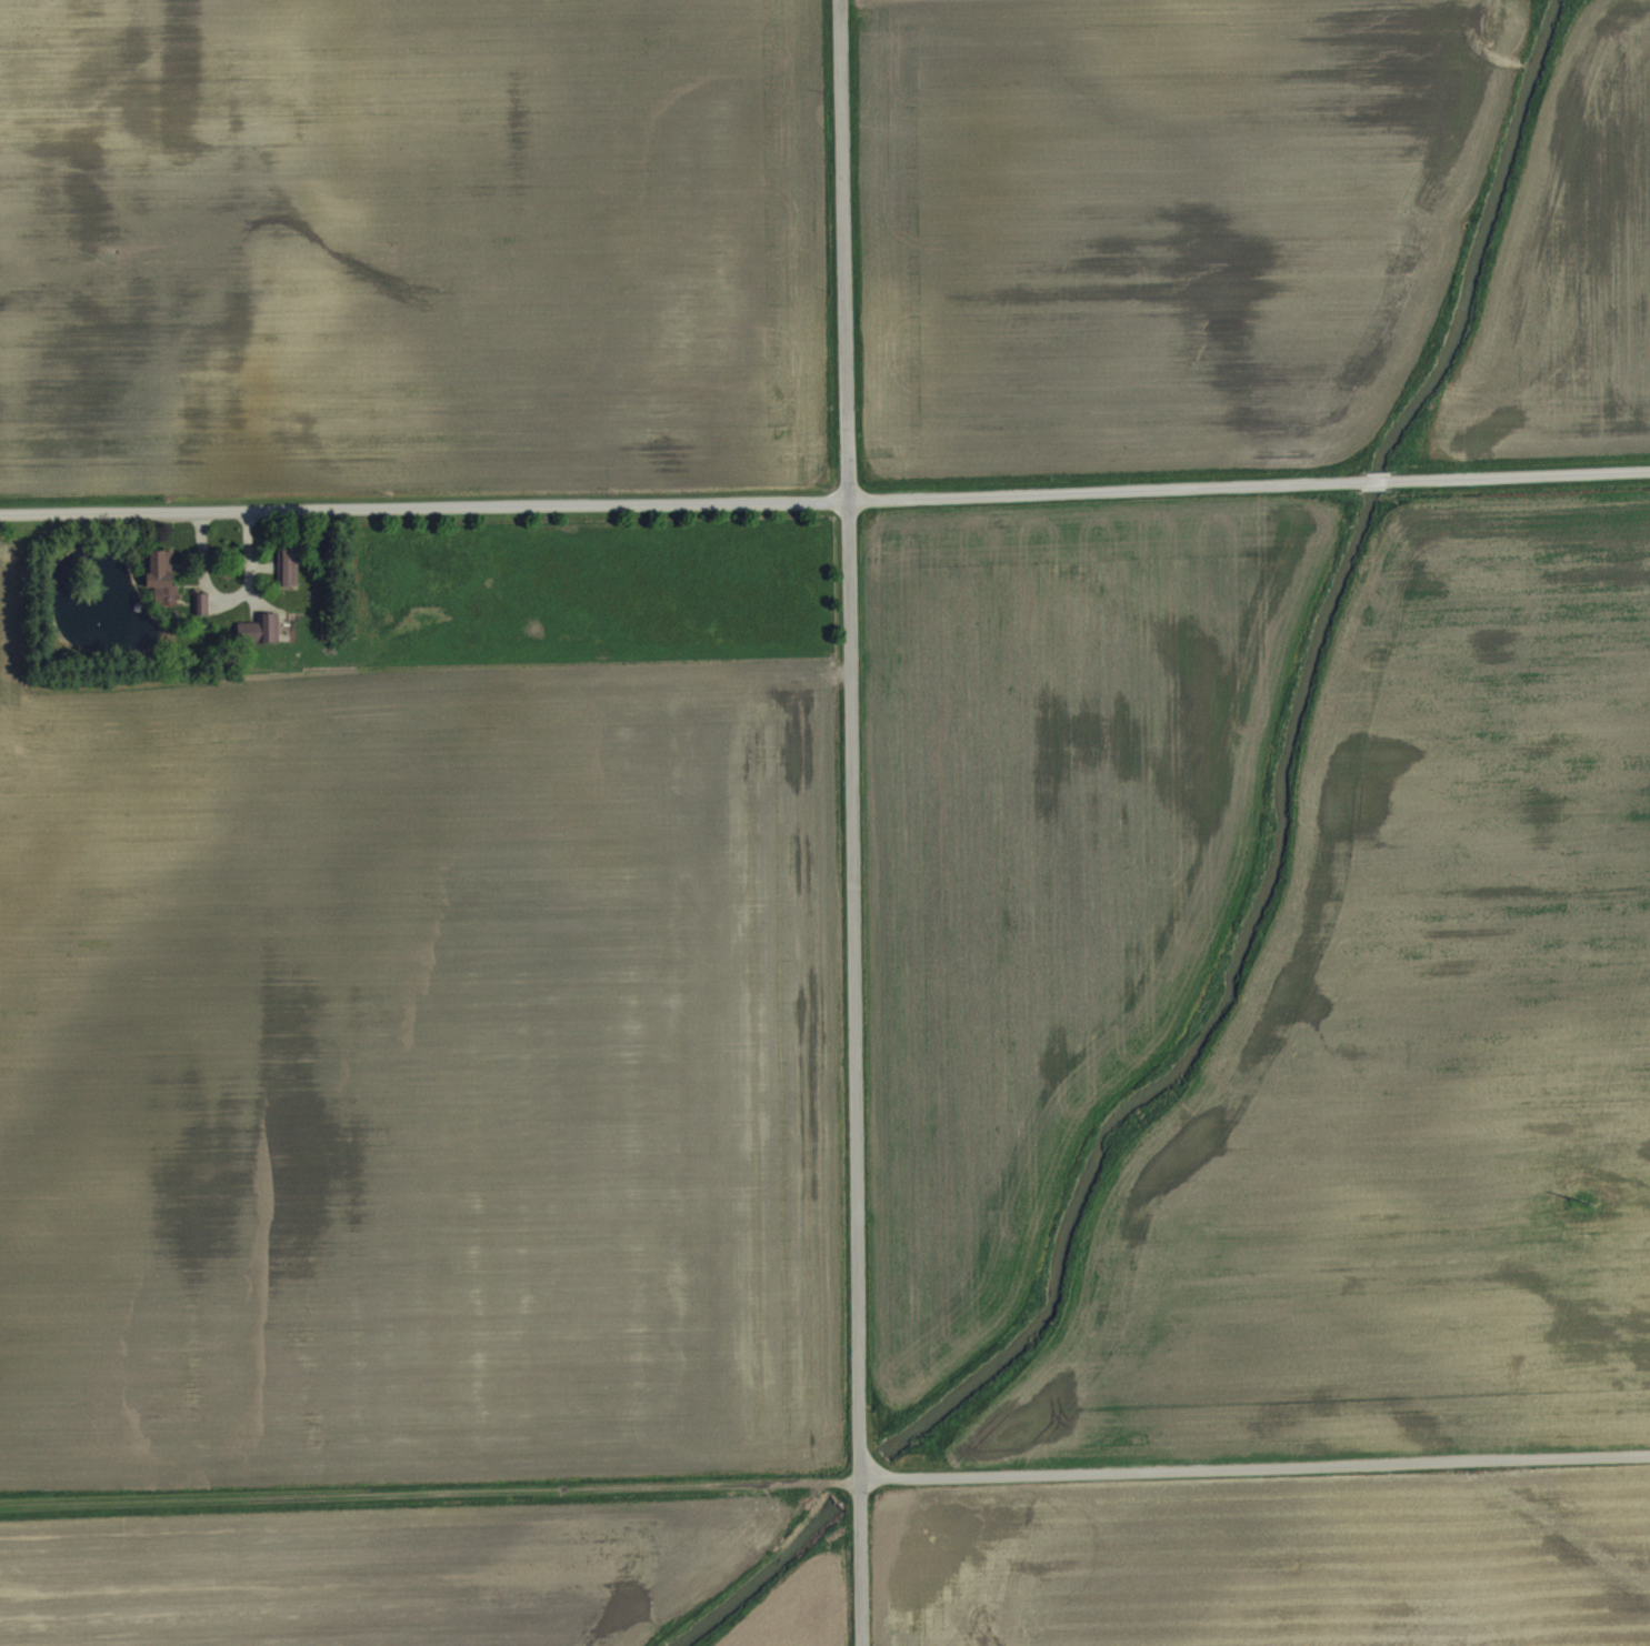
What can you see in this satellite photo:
road: (824, 502)
building: (163, 566)
building: (290, 566)
road: (232, 590)
building: (261, 629)
road: (846, 823)
road: (824, 1478)

